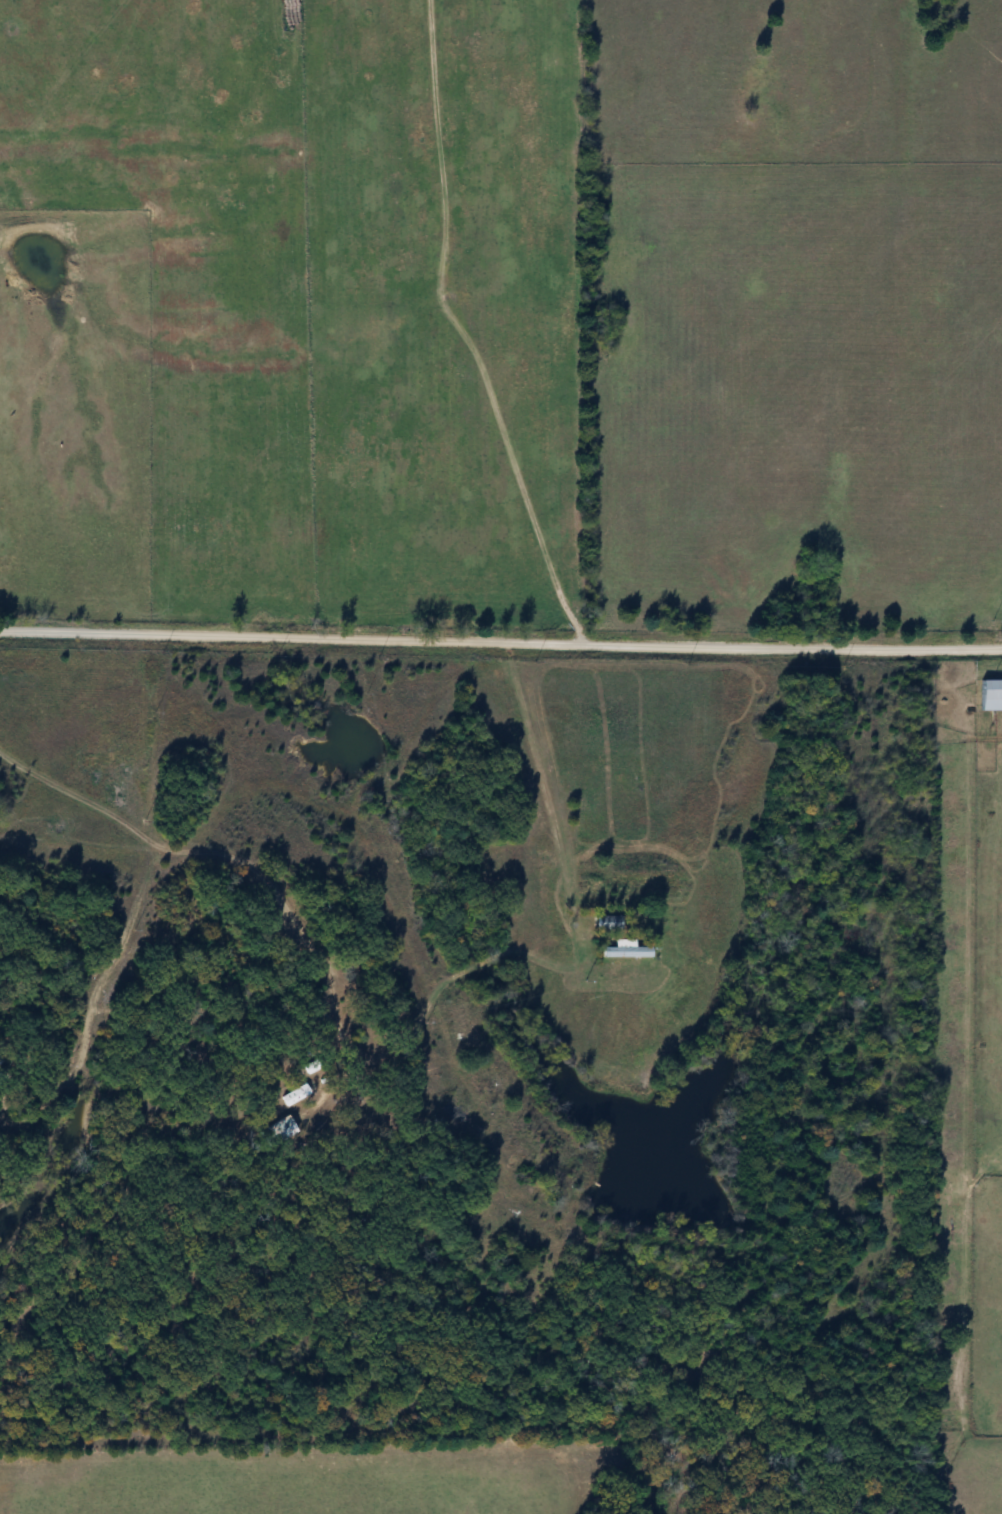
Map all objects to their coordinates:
road: (500, 645)
building: (990, 696)
road: (541, 789)
road: (323, 806)
road: (213, 810)
building: (607, 923)
road: (306, 941)
building: (625, 950)
road: (43, 988)
road: (90, 1003)

